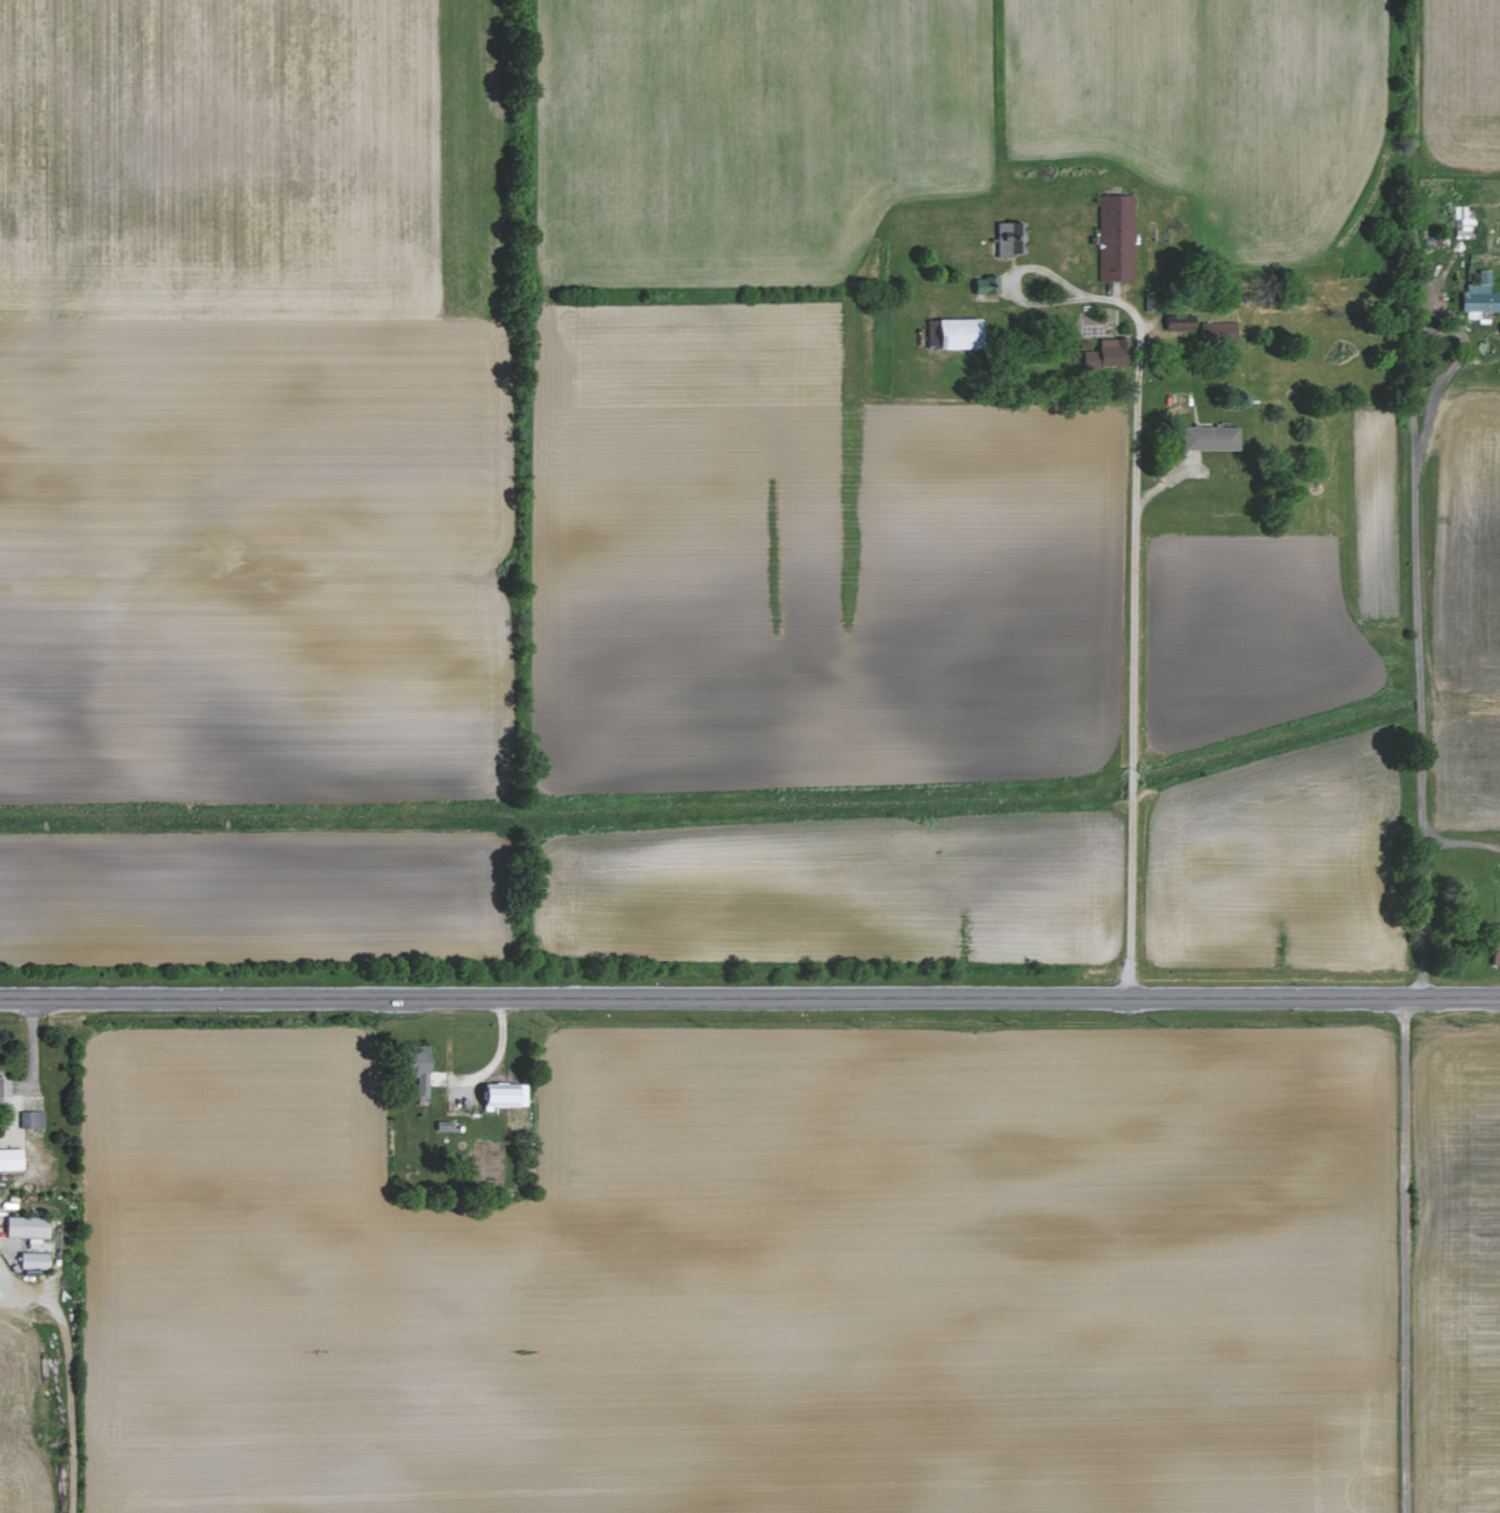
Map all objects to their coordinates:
crop: (259, 157)
building: (1462, 223)
building: (1116, 238)
building: (1011, 239)
building: (986, 285)
building: (1481, 296)
building: (1204, 329)
building: (959, 334)
building: (1106, 356)
building: (1212, 438)
road: (1133, 545)
road: (1413, 583)
crop: (260, 645)
crop: (814, 666)
building: (1492, 943)
road: (750, 1003)
building: (1, 1086)
road: (13, 1106)
building: (32, 1119)
building: (12, 1159)
building: (29, 1227)
road: (1402, 1258)
building: (36, 1260)
road: (71, 1373)

